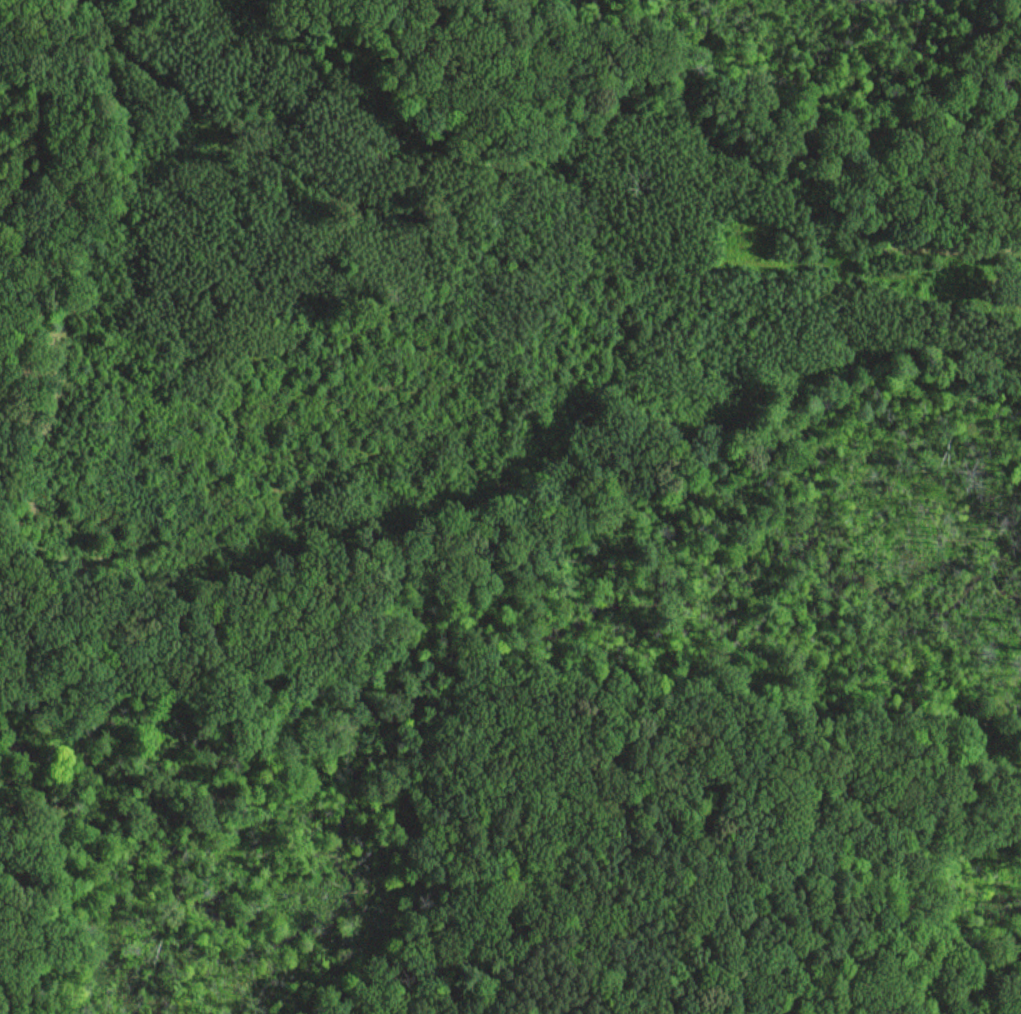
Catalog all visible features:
road: (918, 248)
road: (686, 1010)

